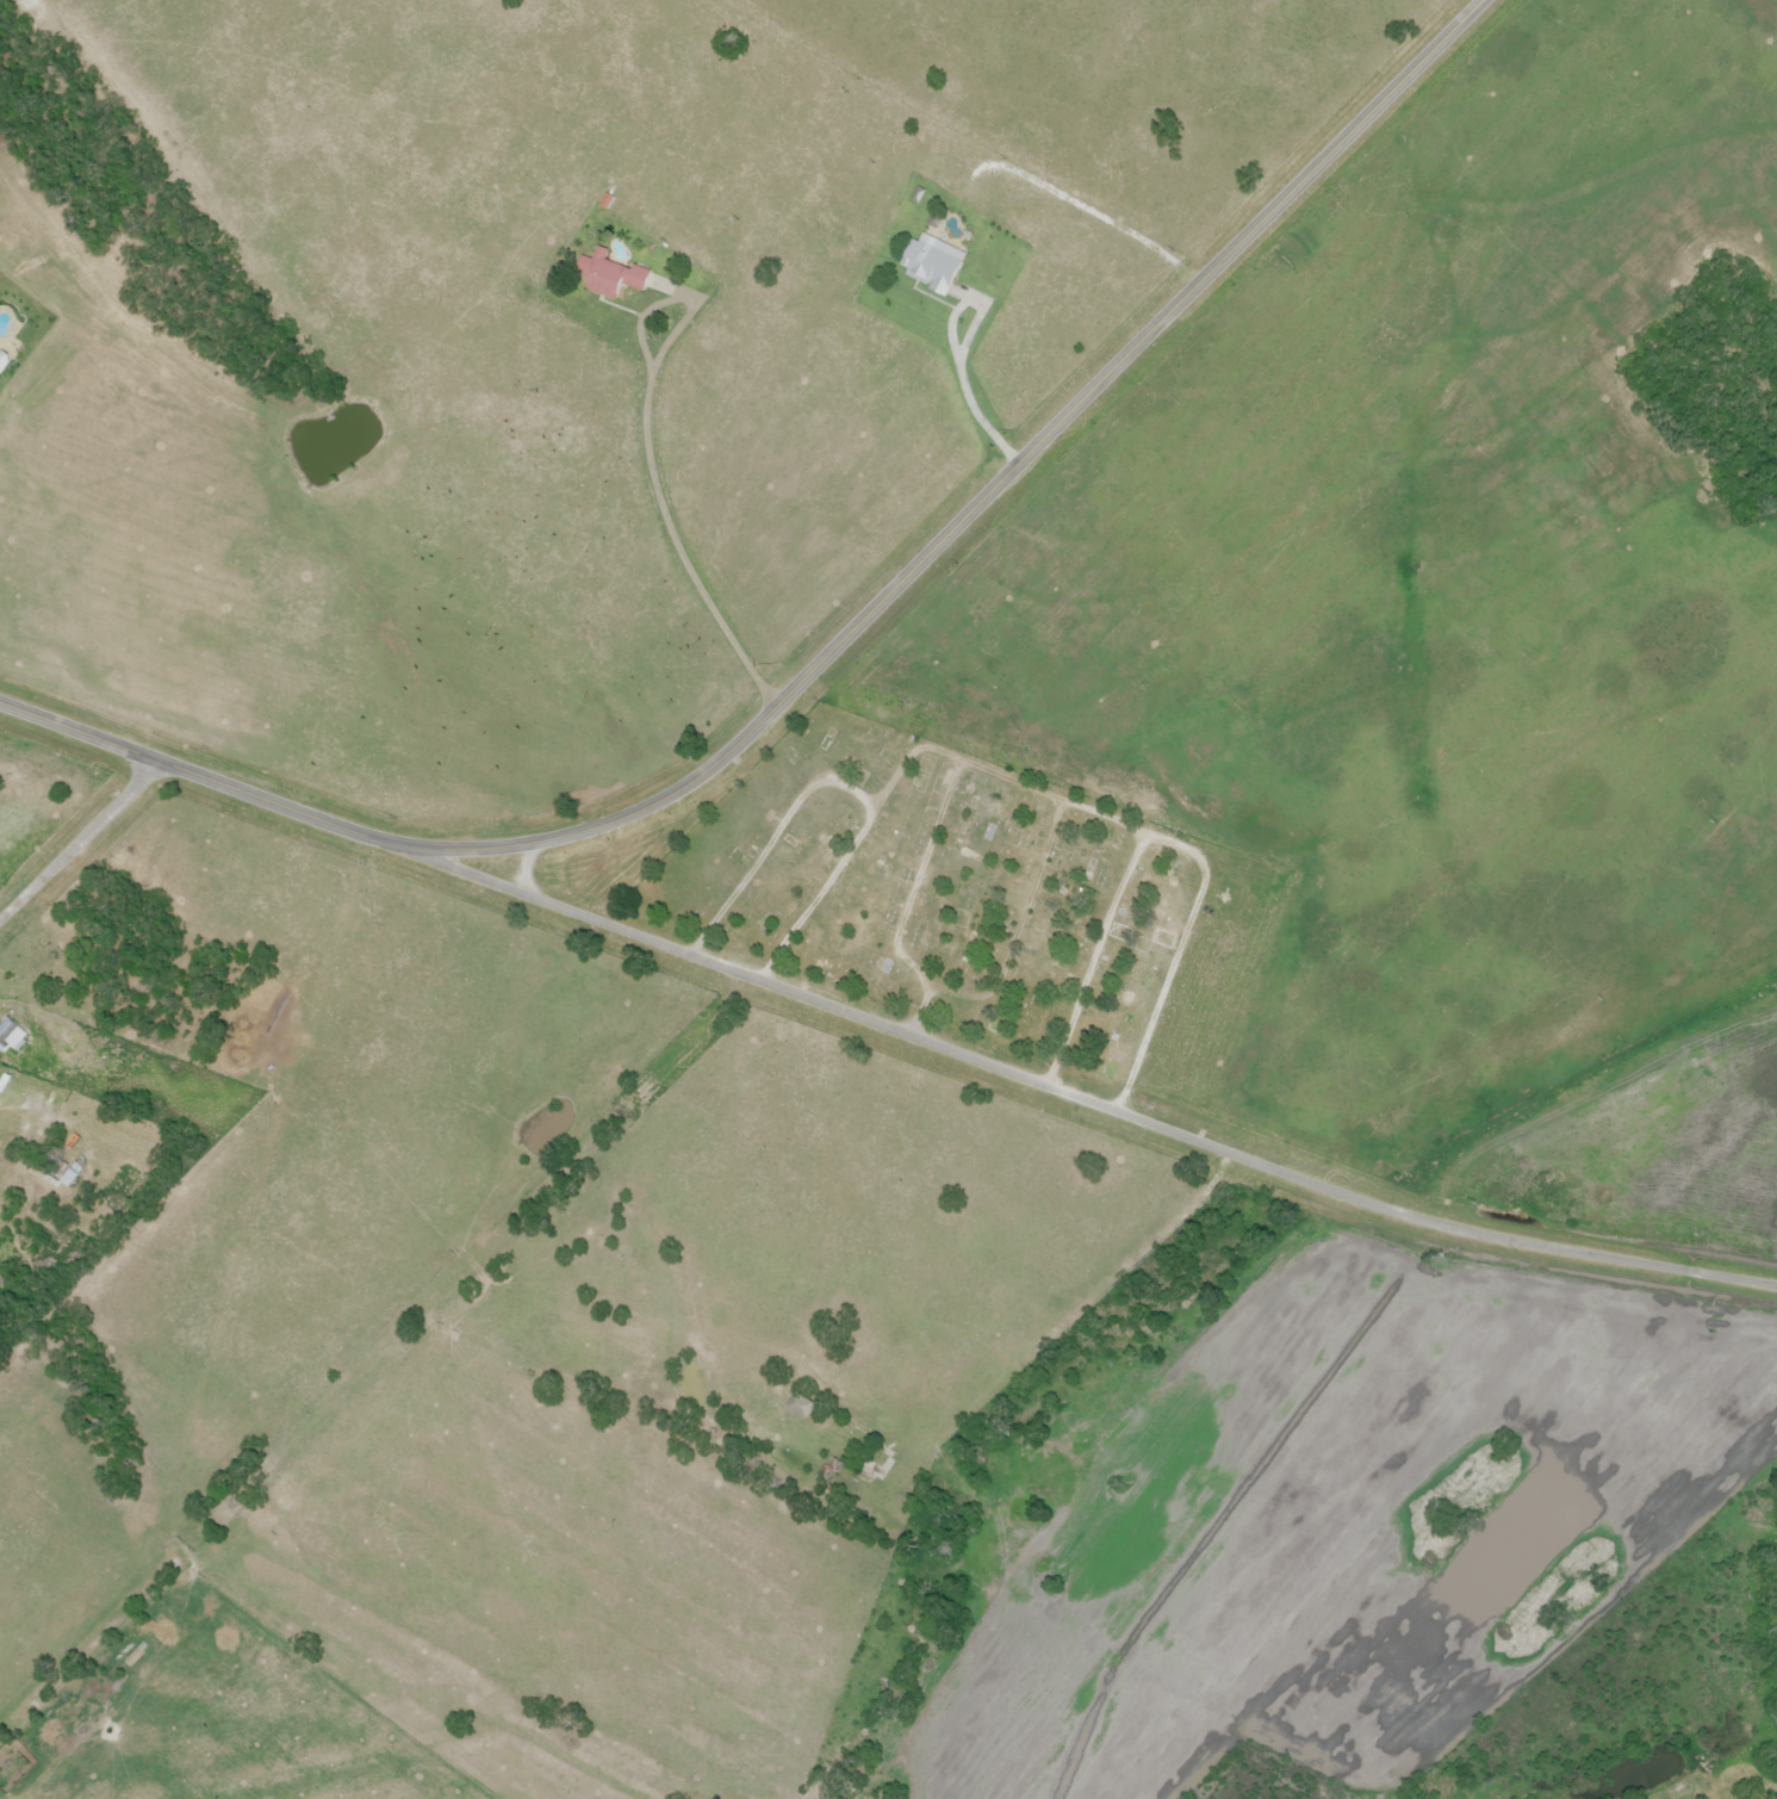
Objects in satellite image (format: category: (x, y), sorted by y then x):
building: (931, 265)
building: (609, 275)
building: (2, 362)
road: (961, 373)
road: (655, 491)
road: (831, 651)
road: (77, 839)
park: (975, 899)
building: (10, 1035)
road: (1061, 1092)
building: (62, 1173)
road: (1075, 1311)
building: (801, 1406)
building: (872, 1468)

